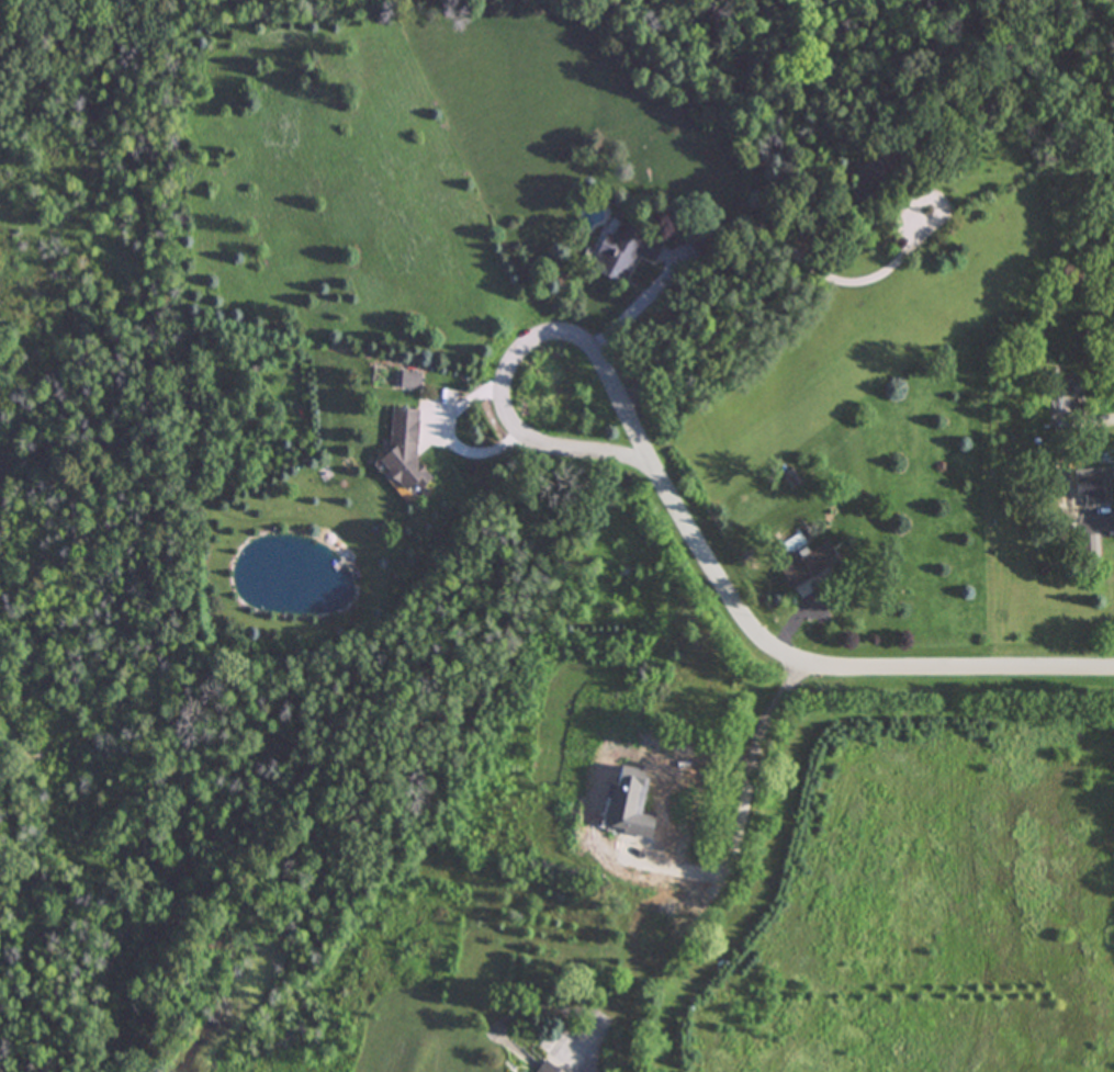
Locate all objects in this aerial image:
building: (862, 167)
building: (618, 250)
road: (634, 302)
road: (515, 354)
building: (1069, 386)
building: (403, 450)
building: (1088, 486)
park: (97, 542)
building: (1085, 548)
building: (804, 565)
road: (830, 666)
building: (656, 825)
road: (722, 874)
road: (638, 918)
building: (542, 1069)

